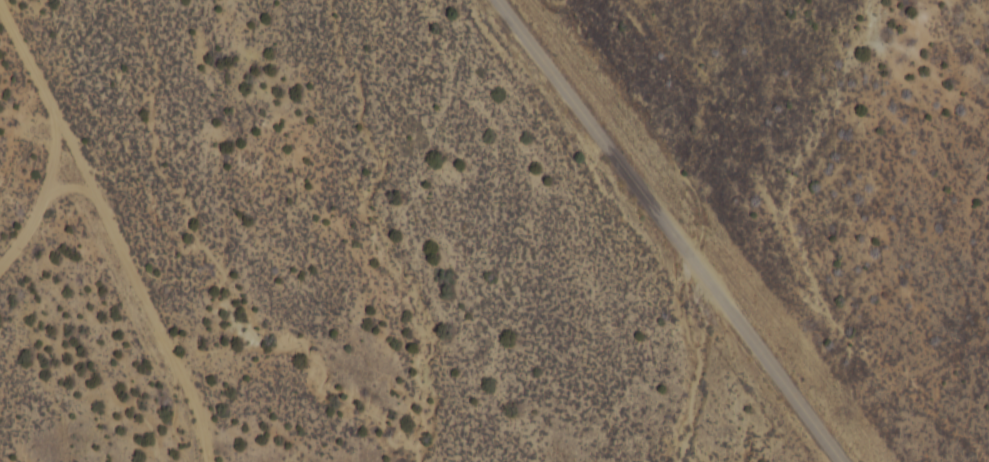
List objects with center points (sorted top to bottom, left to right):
road: (25, 133)
road: (678, 230)
road: (114, 307)

